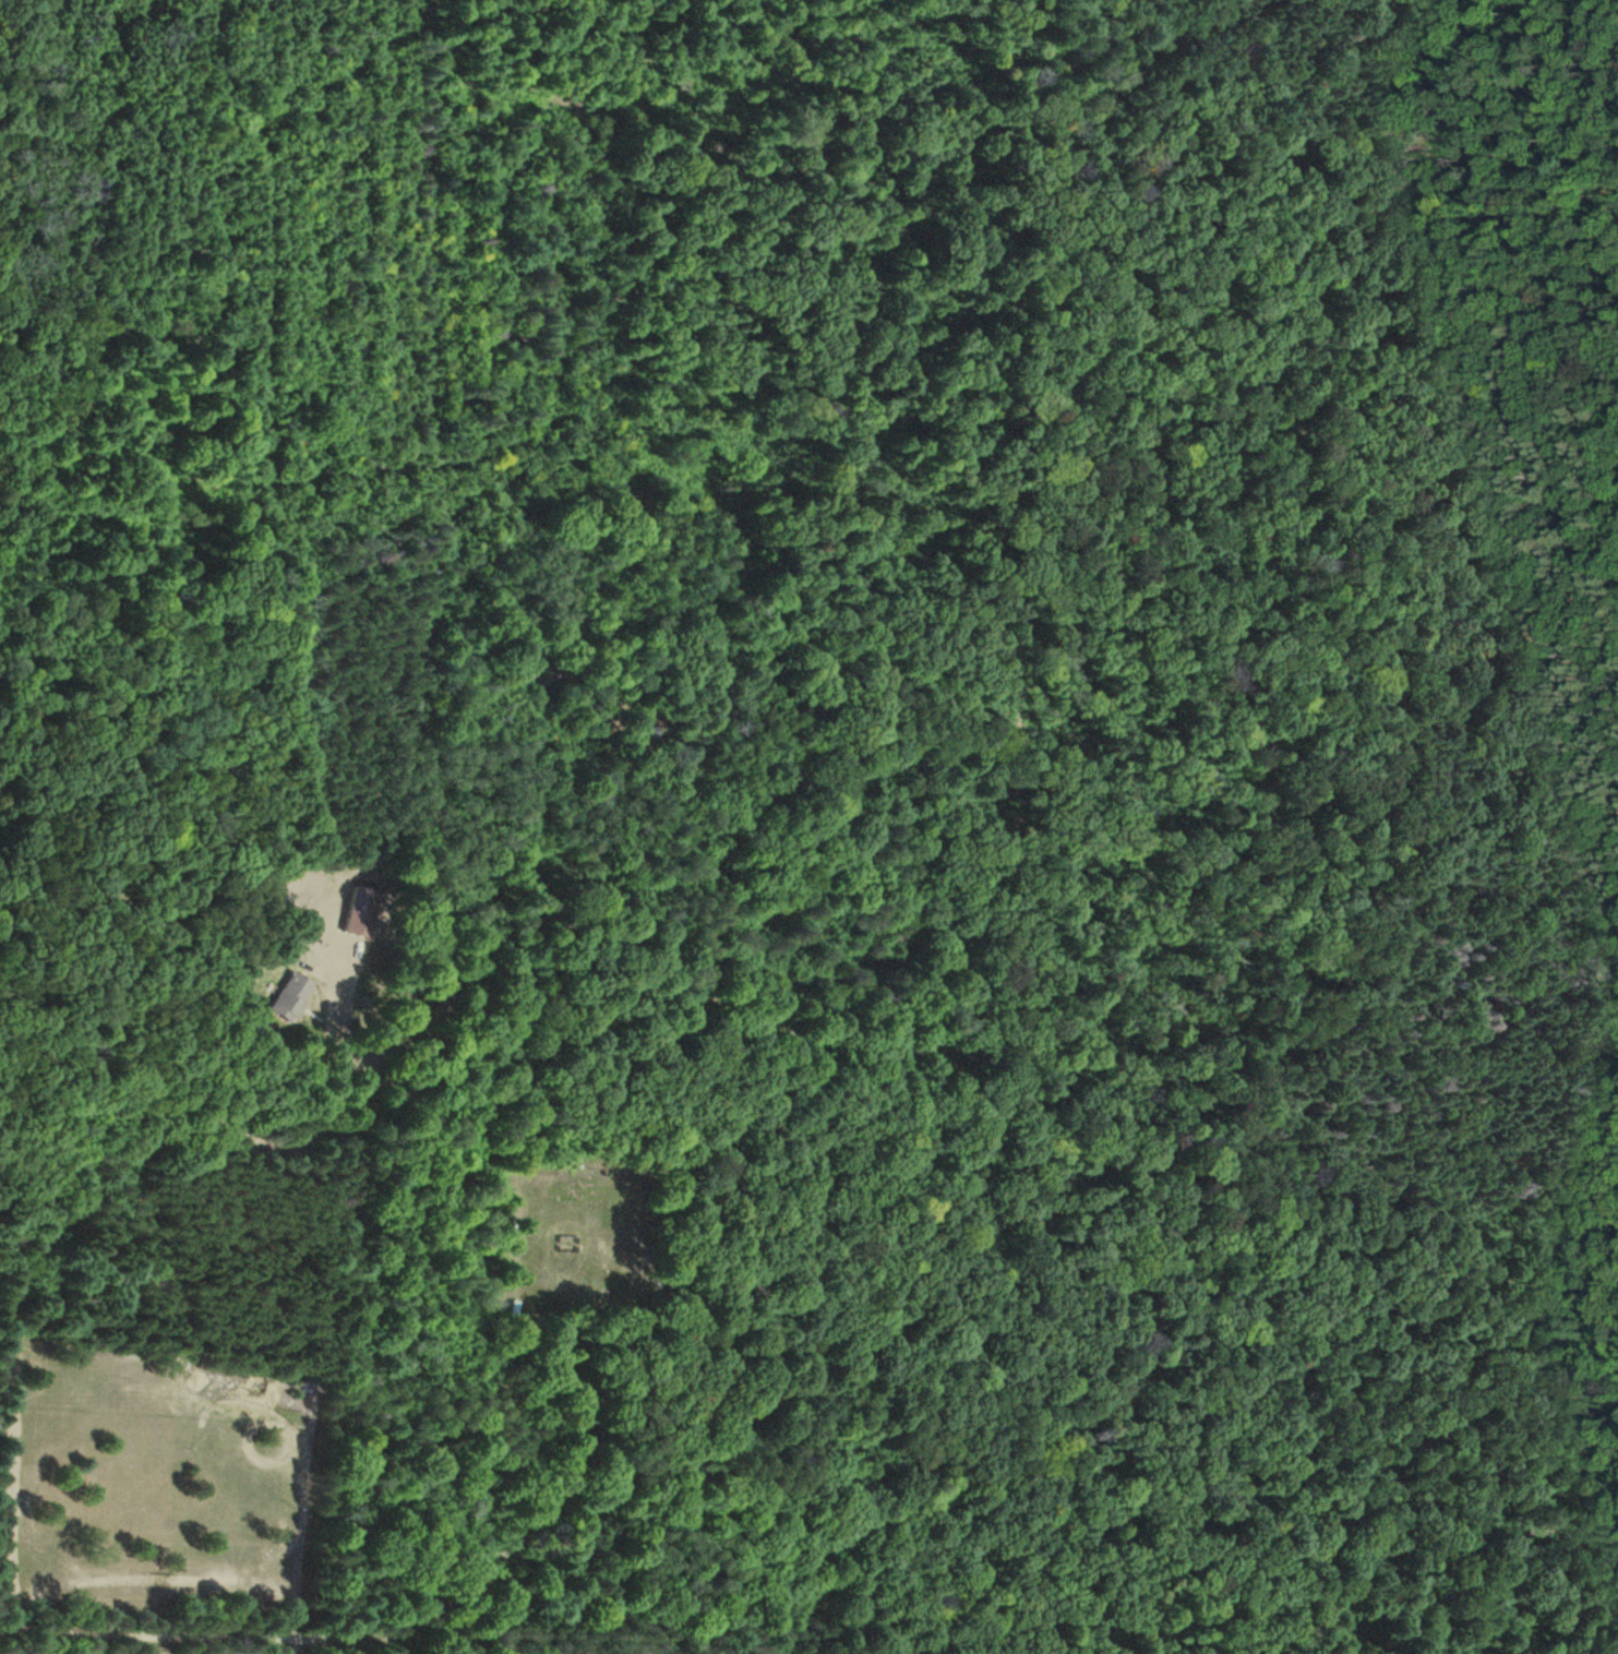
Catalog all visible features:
building: (291, 996)
road: (64, 1630)

